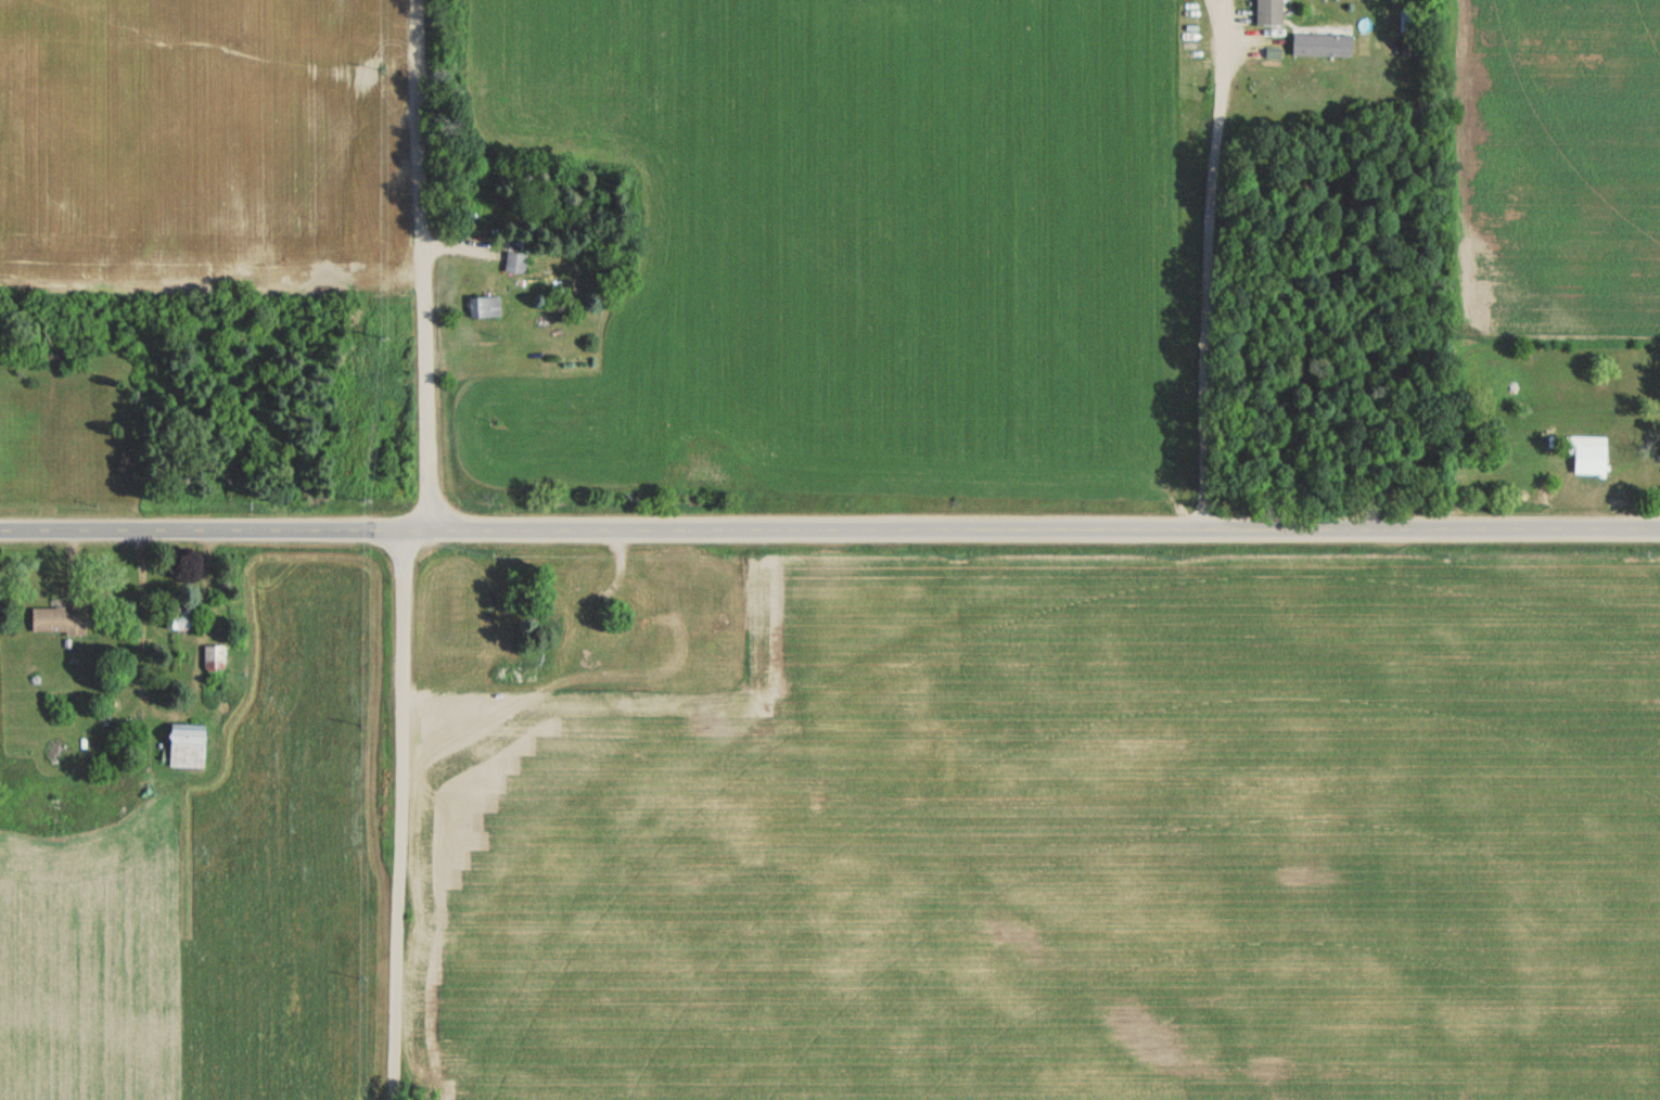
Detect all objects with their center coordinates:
building: (1269, 12)
building: (1321, 44)
building: (515, 263)
road: (1204, 286)
building: (485, 306)
building: (1588, 459)
road: (829, 523)
road: (404, 542)
building: (179, 618)
building: (59, 621)
building: (215, 658)
building: (187, 745)
building: (137, 746)

